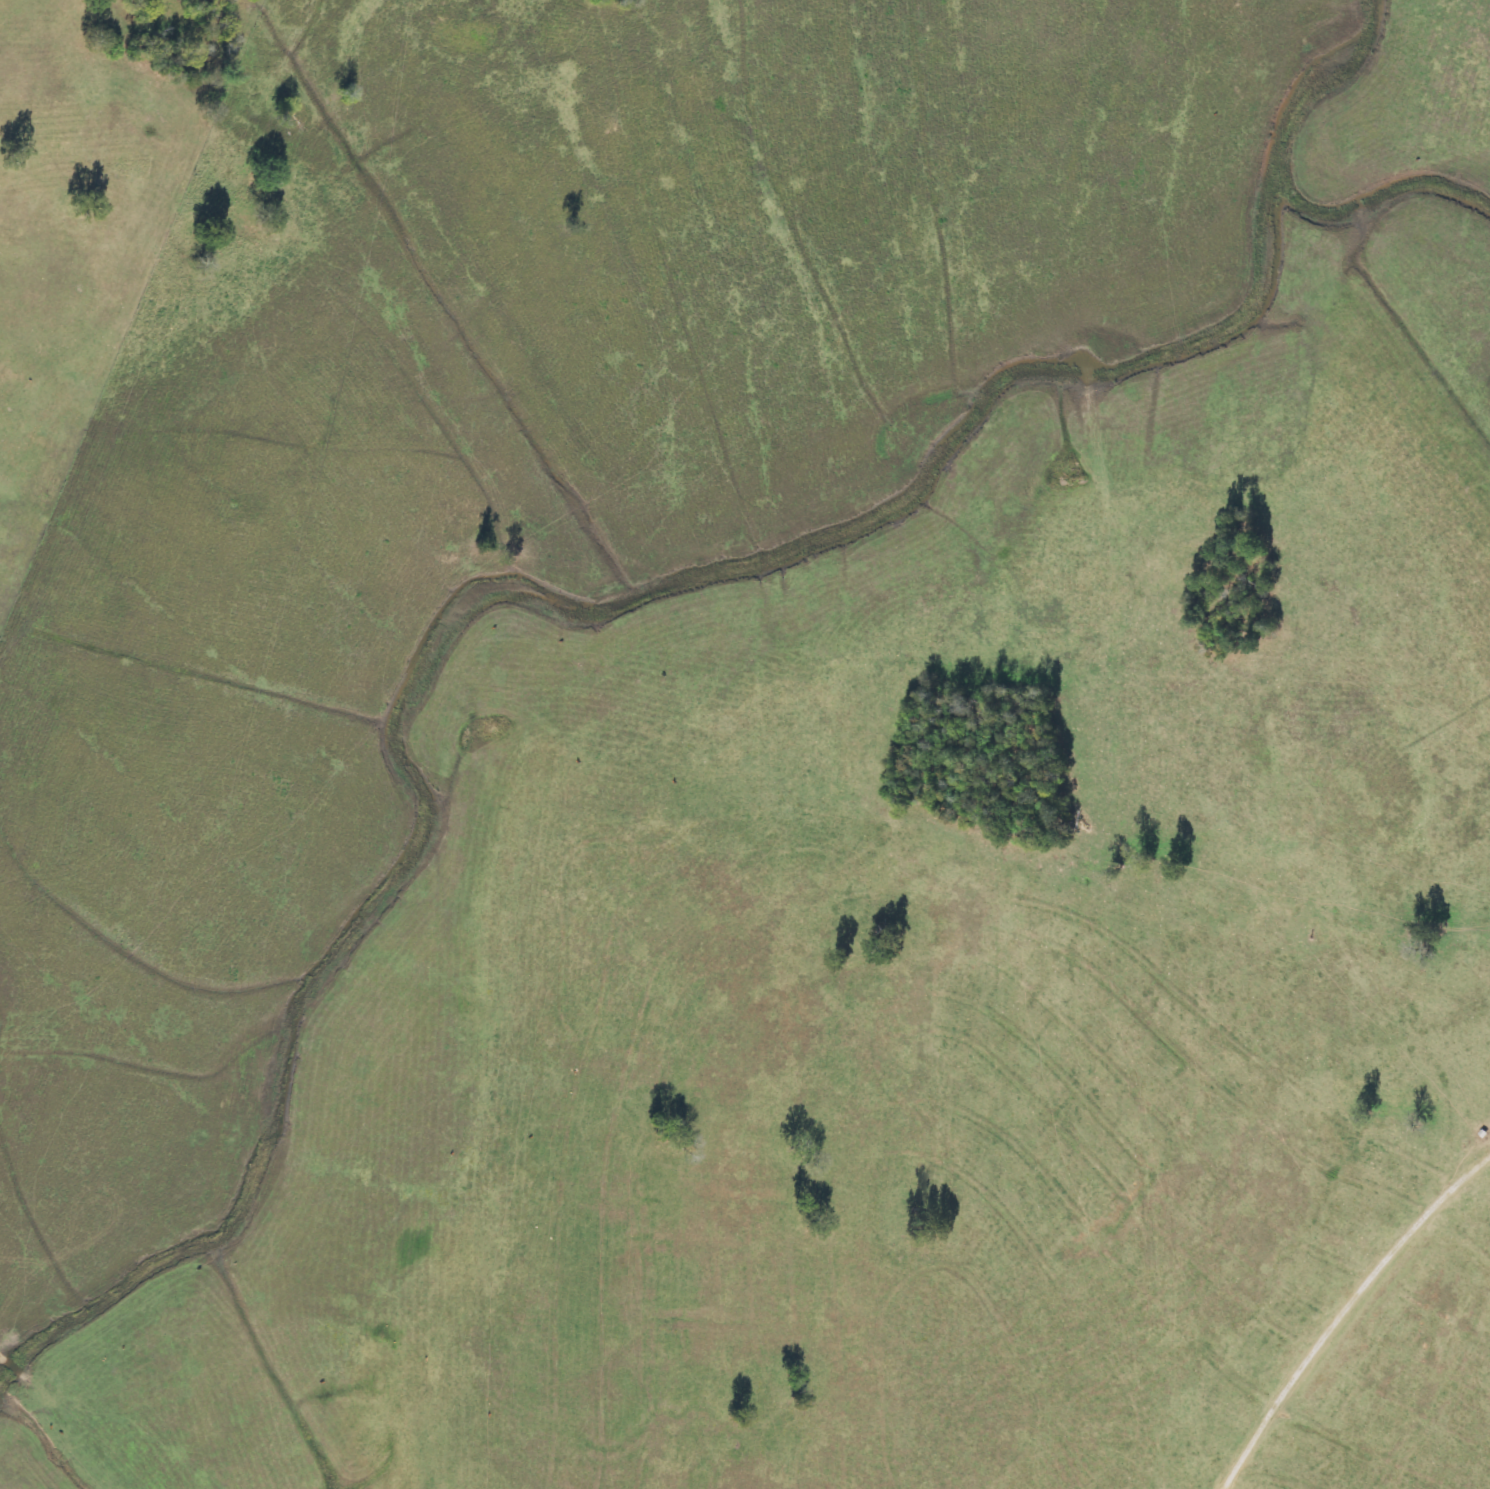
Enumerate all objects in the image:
road: (1344, 1306)

